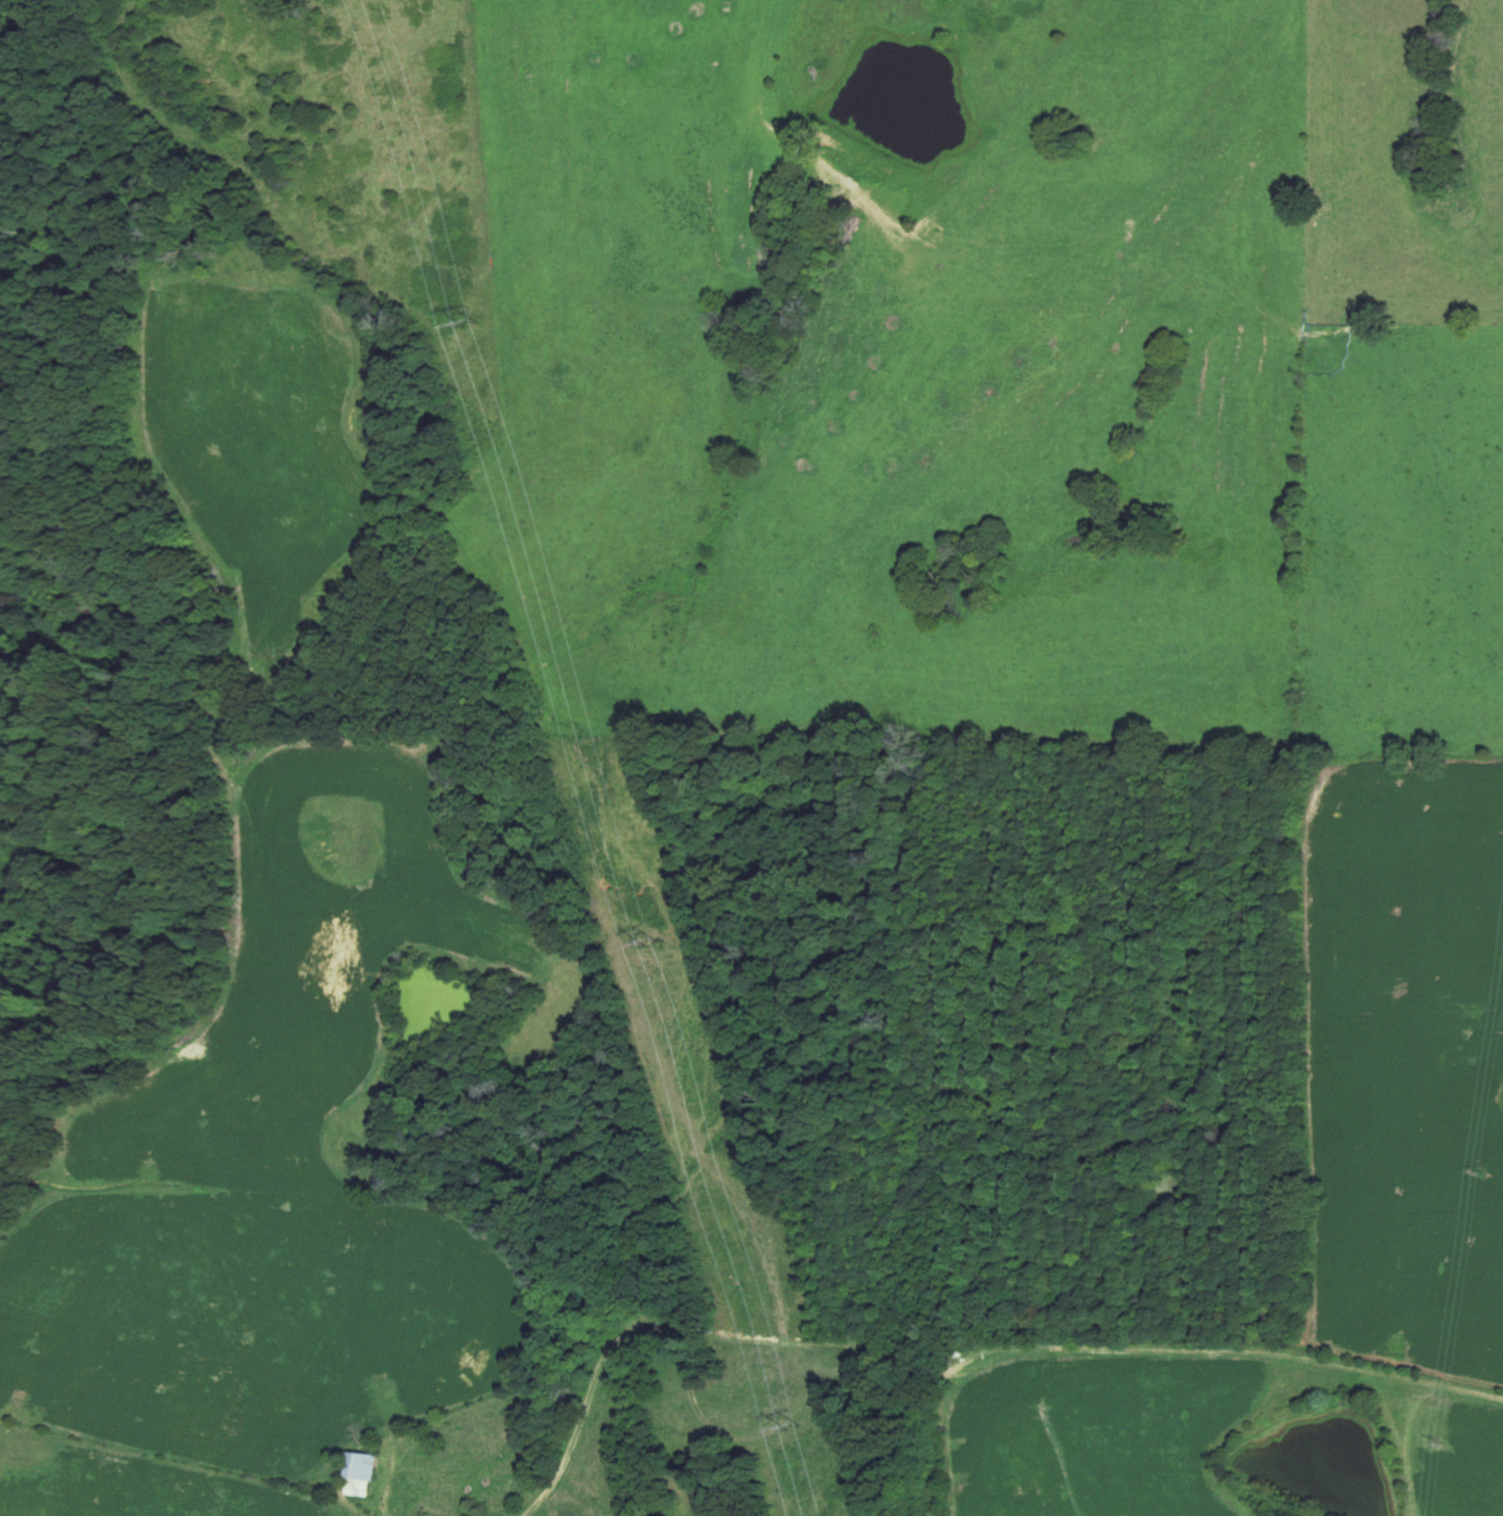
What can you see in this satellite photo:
power tower: (469, 323)
power tower: (650, 943)
power tower: (793, 1424)
building: (360, 1465)

